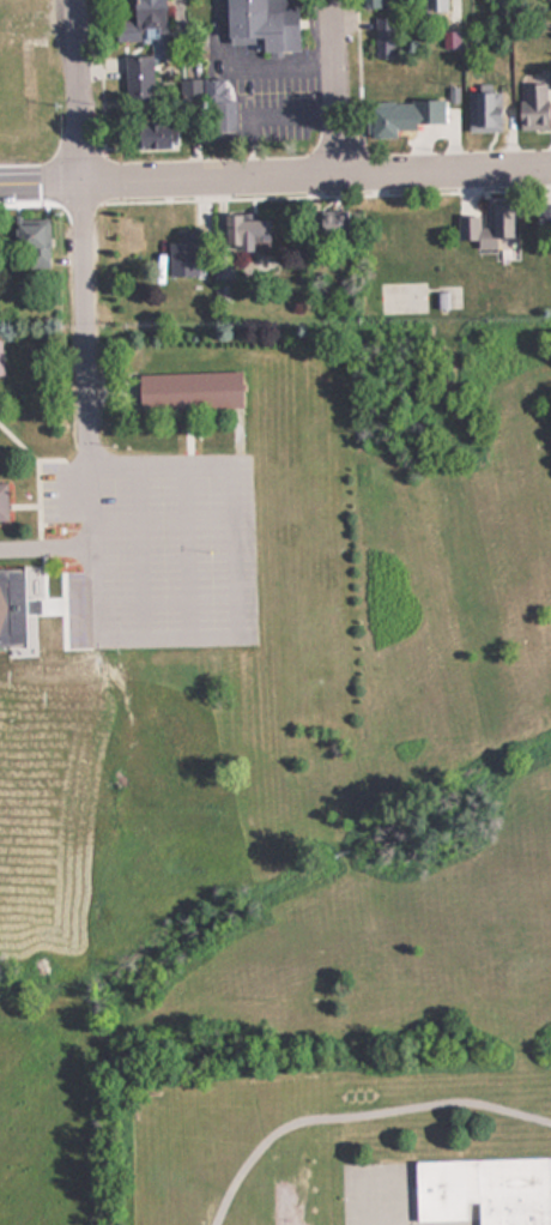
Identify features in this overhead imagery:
building: (370, 2)
building: (432, 4)
building: (139, 20)
building: (259, 23)
building: (382, 37)
building: (137, 77)
road: (343, 85)
building: (532, 105)
building: (482, 110)
building: (222, 116)
building: (398, 116)
building: (151, 134)
road: (275, 171)
building: (483, 227)
building: (243, 233)
building: (29, 243)
building: (187, 255)
road: (81, 316)
building: (2, 502)
building: (5, 609)
road: (357, 1112)
building: (483, 1191)

